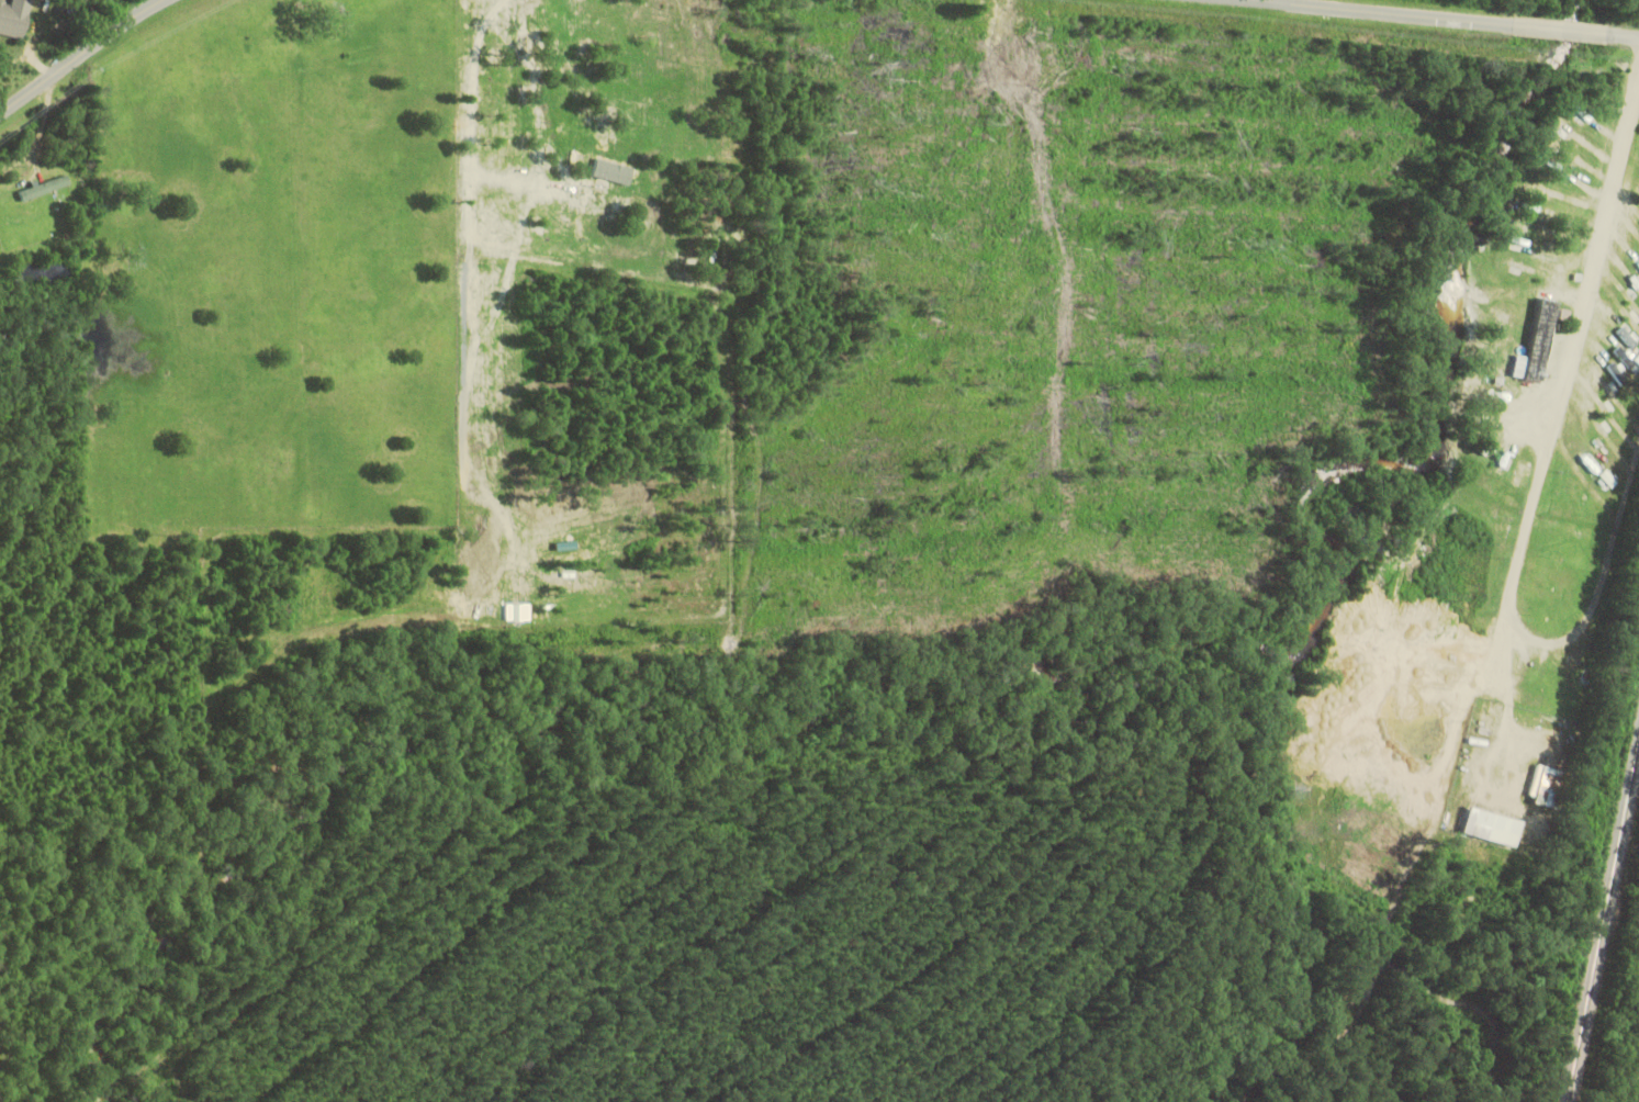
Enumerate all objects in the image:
road: (1382, 12)
building: (15, 16)
road: (1559, 29)
road: (1623, 34)
road: (79, 55)
river: (1511, 127)
building: (45, 187)
building: (1540, 342)
building: (1628, 348)
road: (1520, 559)
building: (1497, 825)
railway: (1604, 925)

